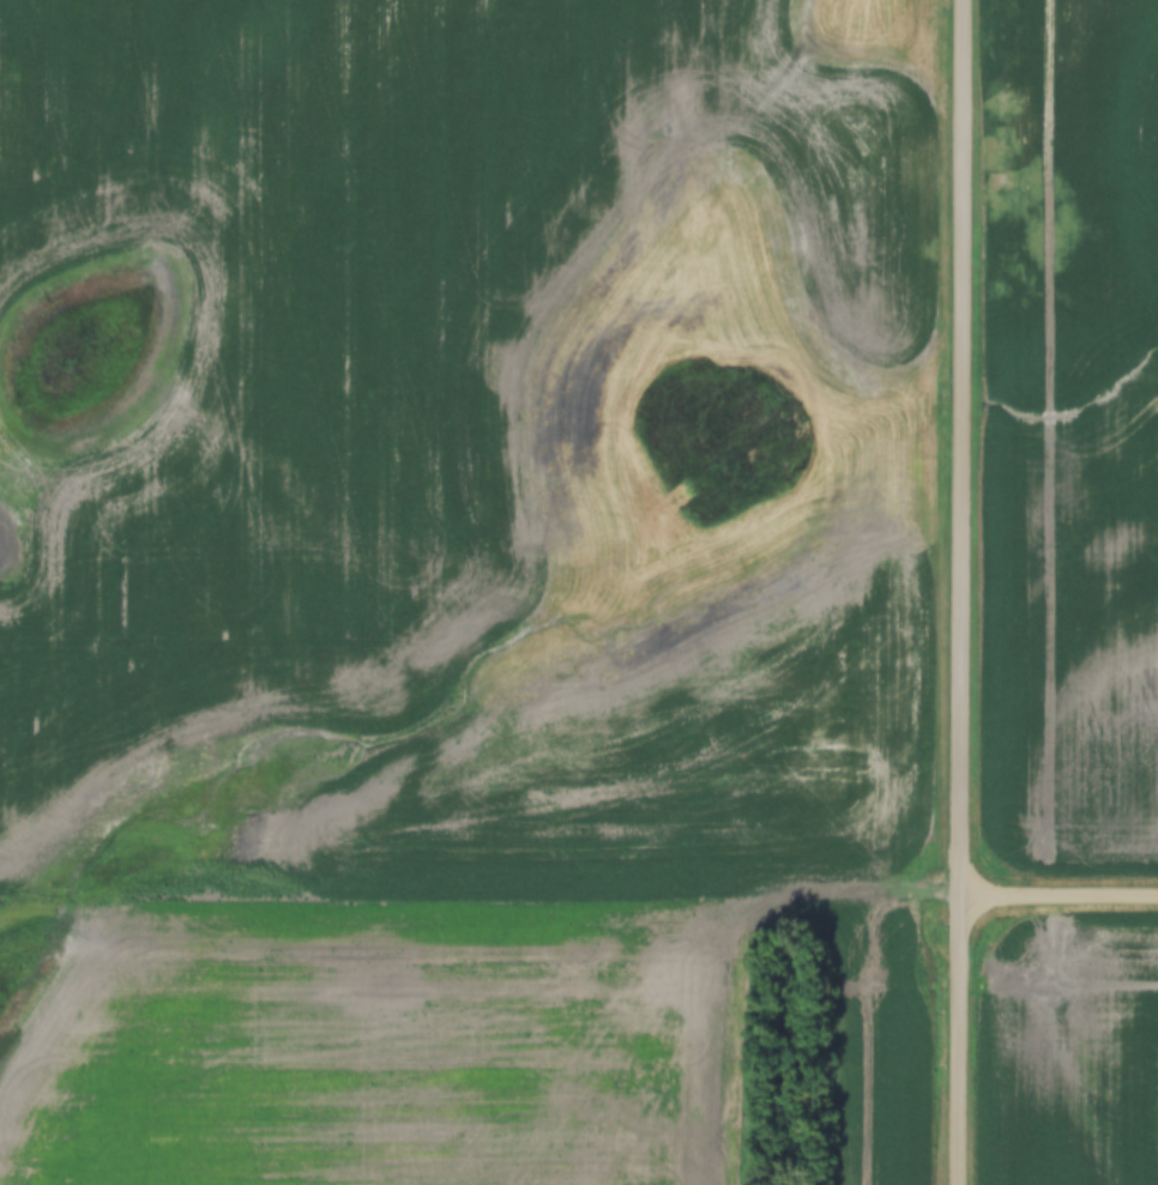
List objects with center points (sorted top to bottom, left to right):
road: (959, 592)
road: (1059, 895)

